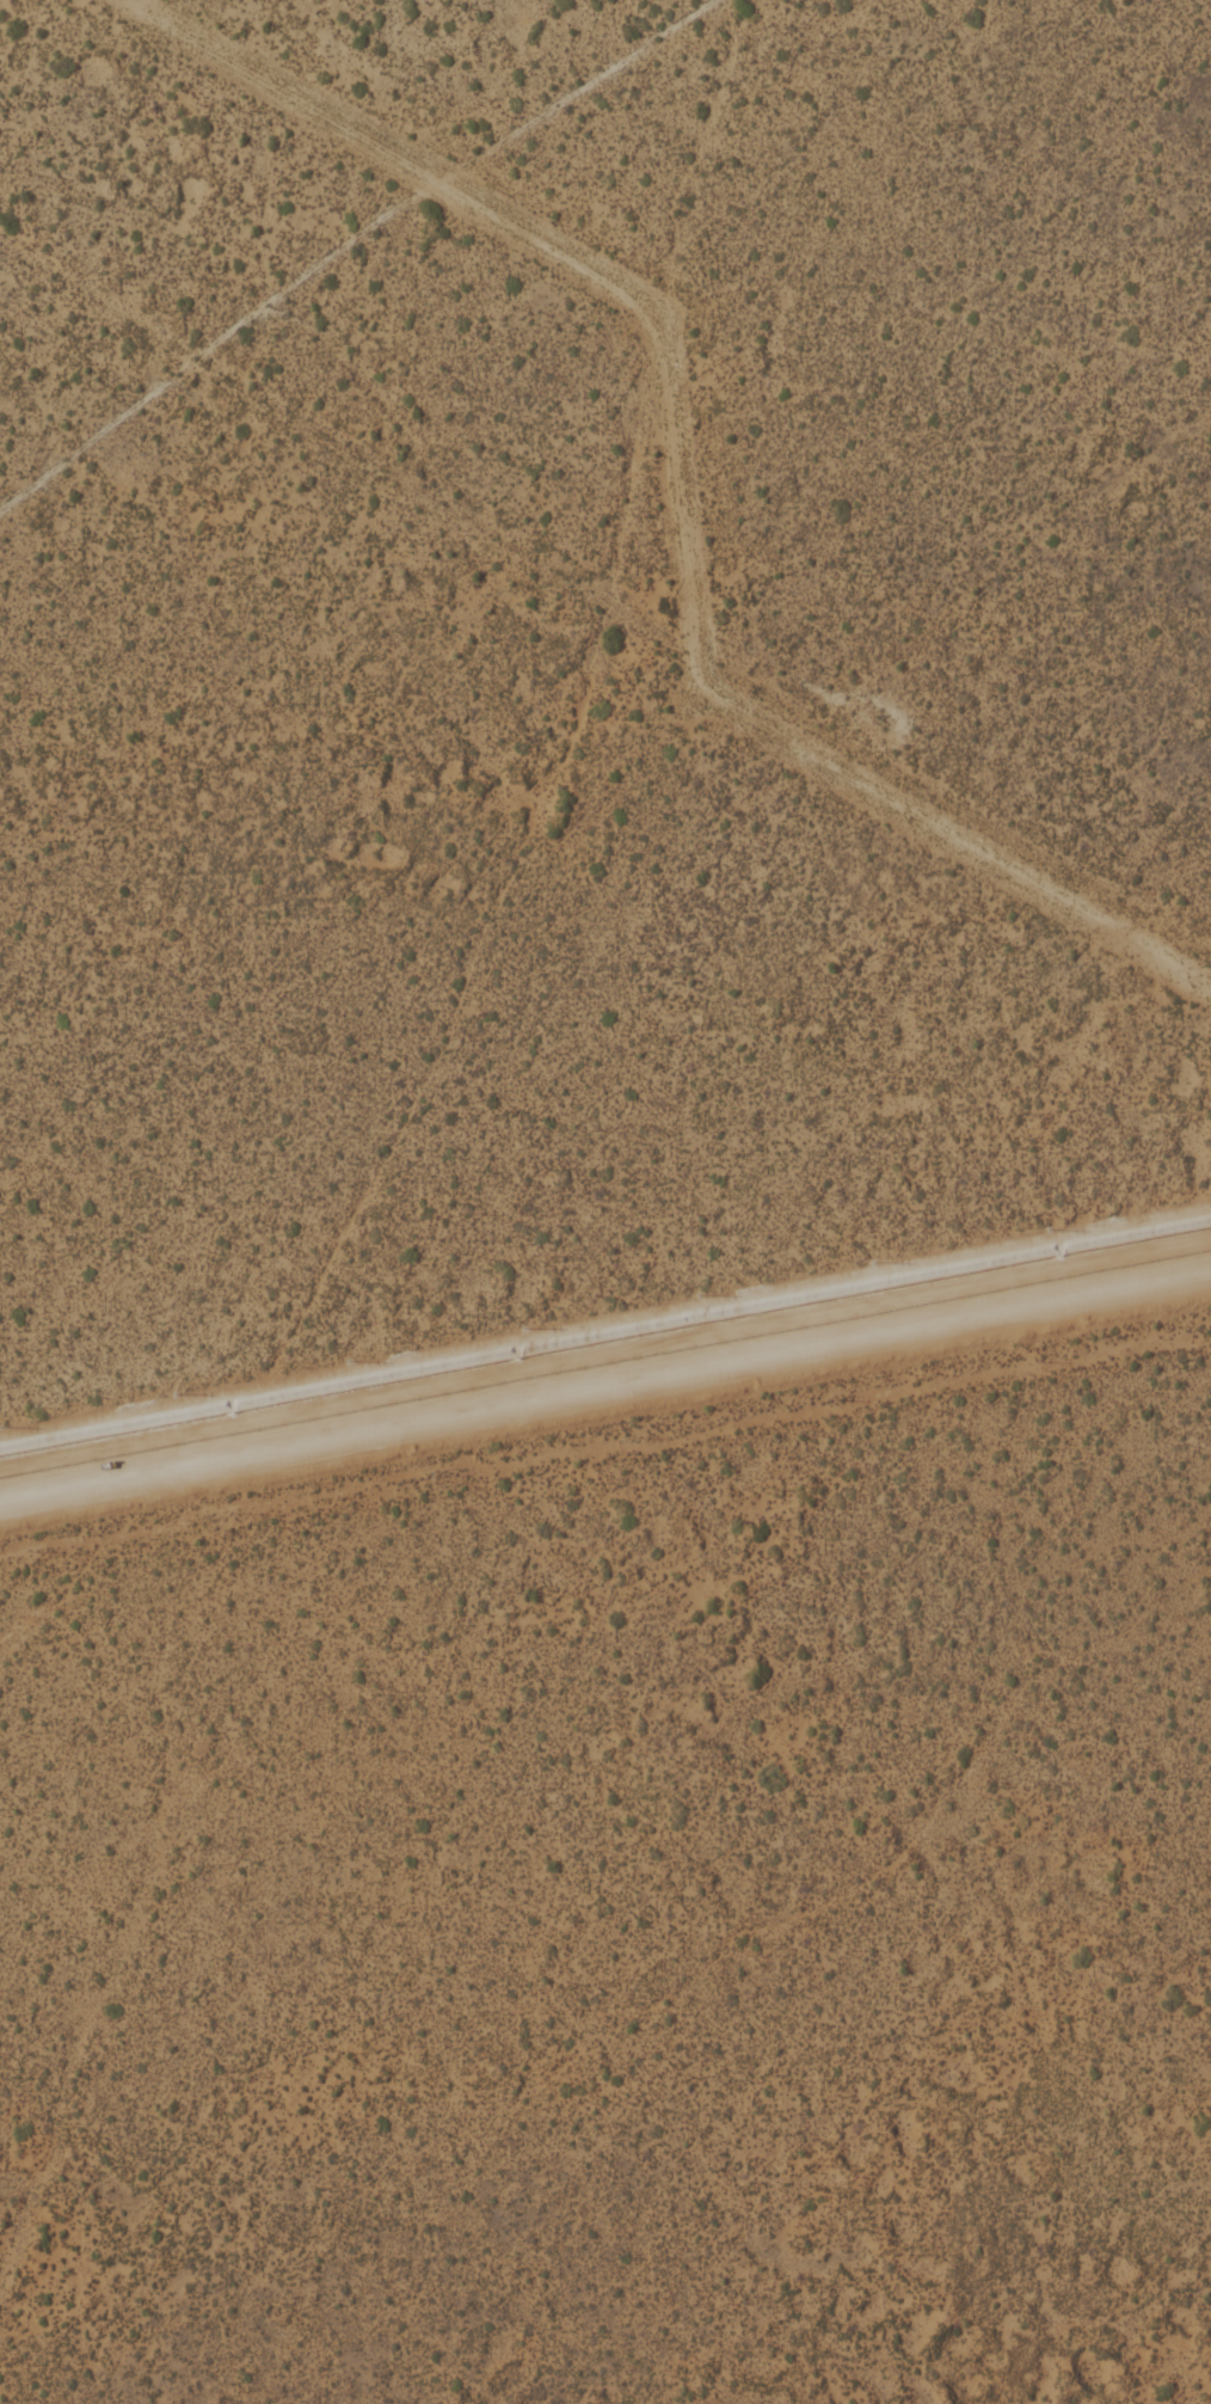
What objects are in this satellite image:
road: (326, 217)

